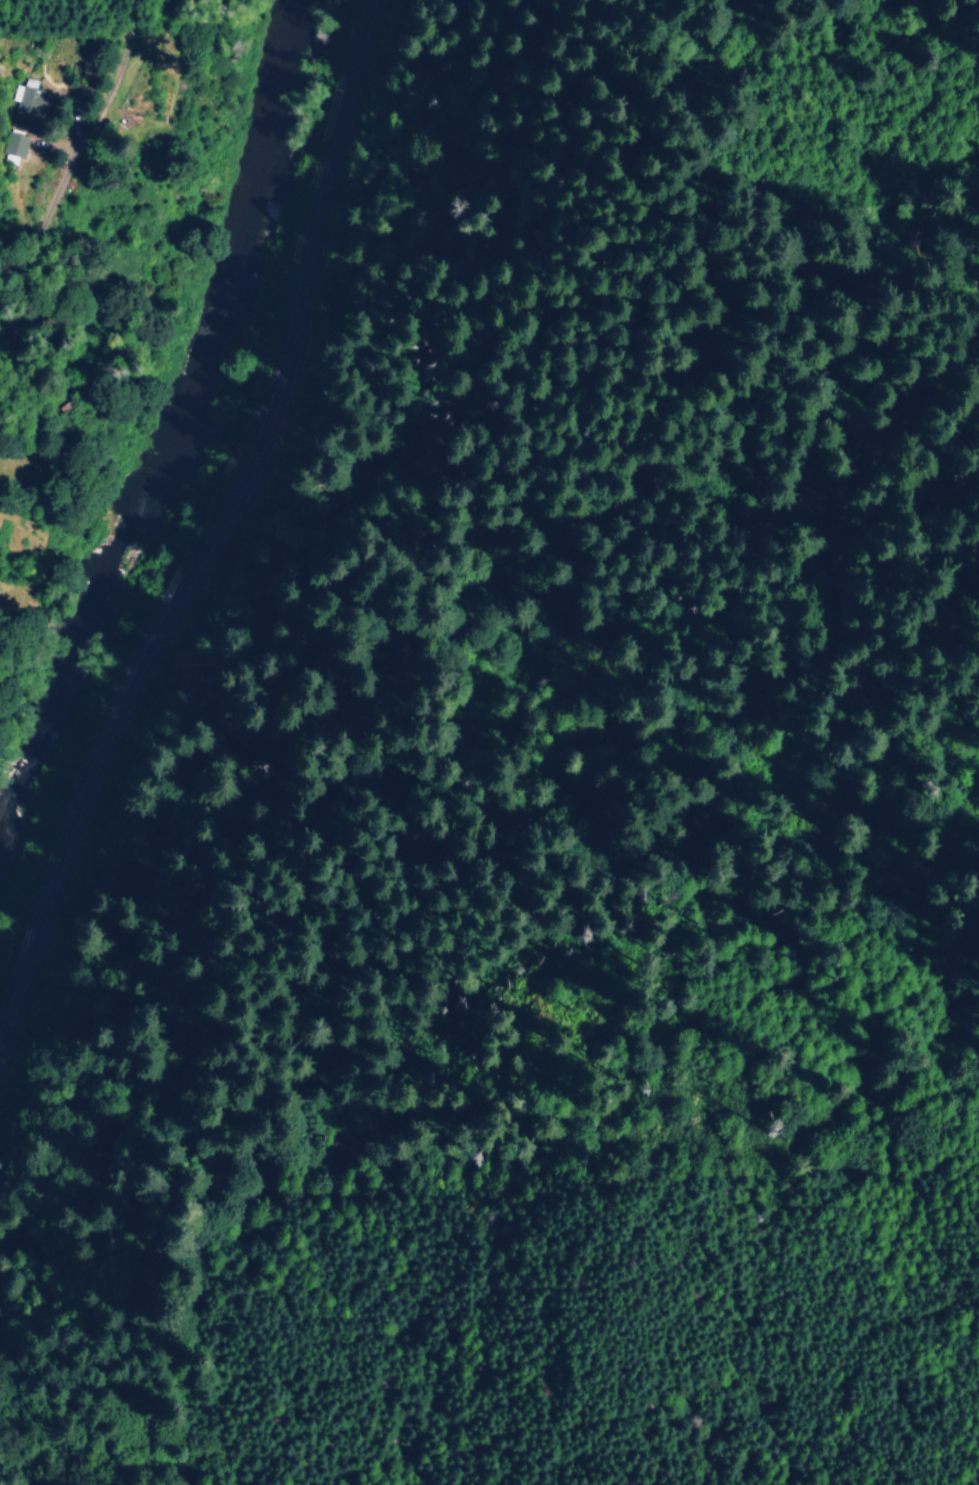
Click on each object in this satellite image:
building: (12, 147)
river: (158, 444)
road: (220, 532)
road: (15, 588)

